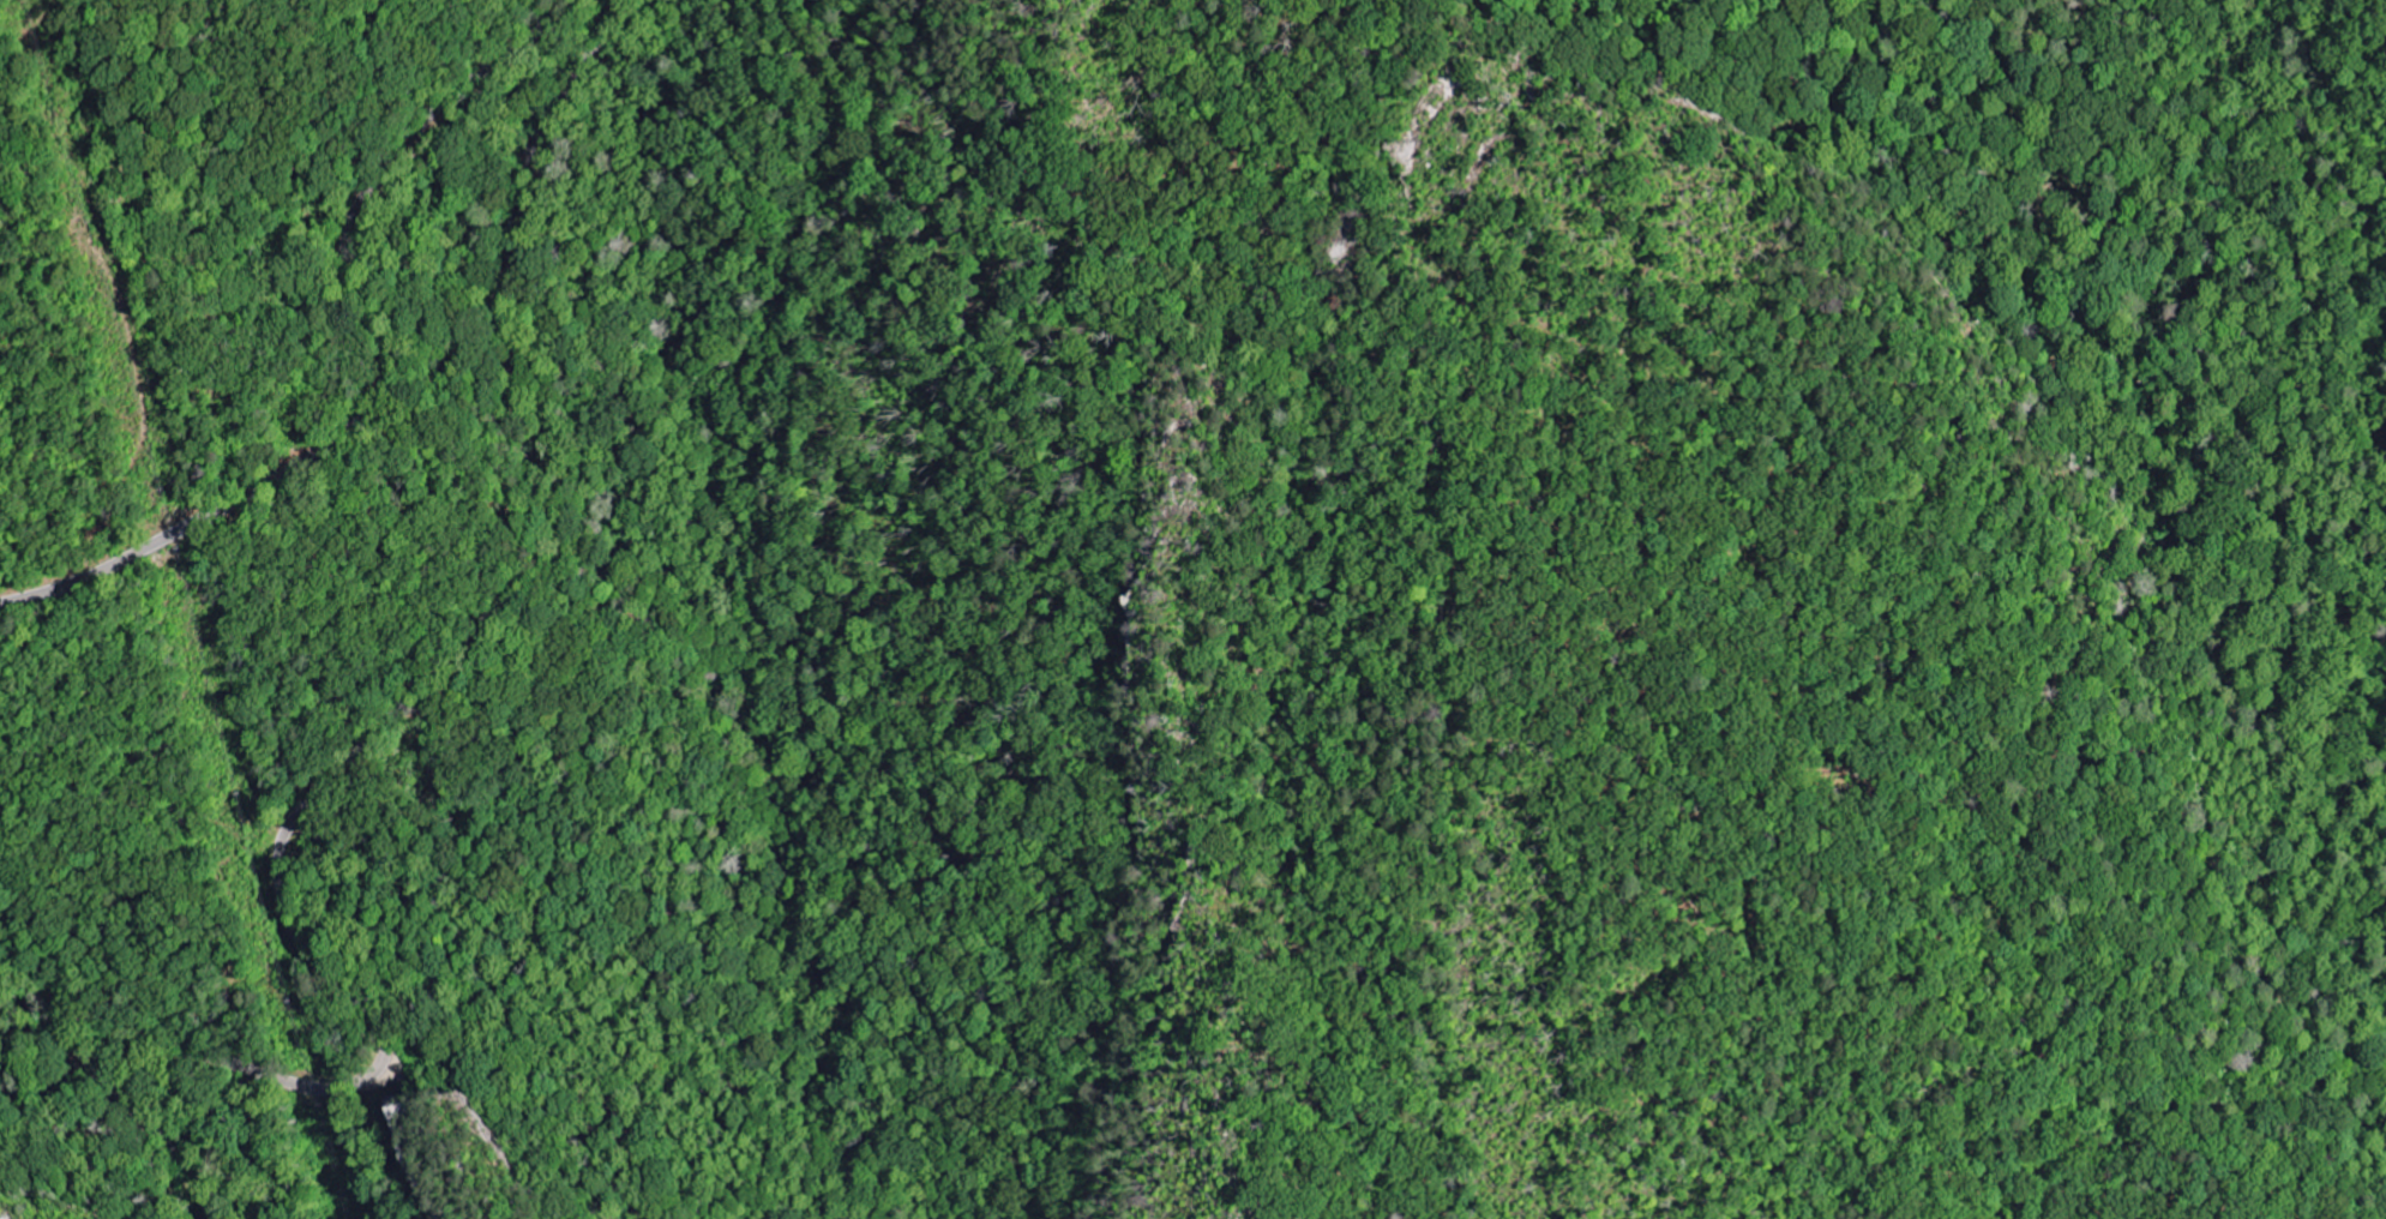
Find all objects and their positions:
road: (387, 370)
road: (342, 767)

